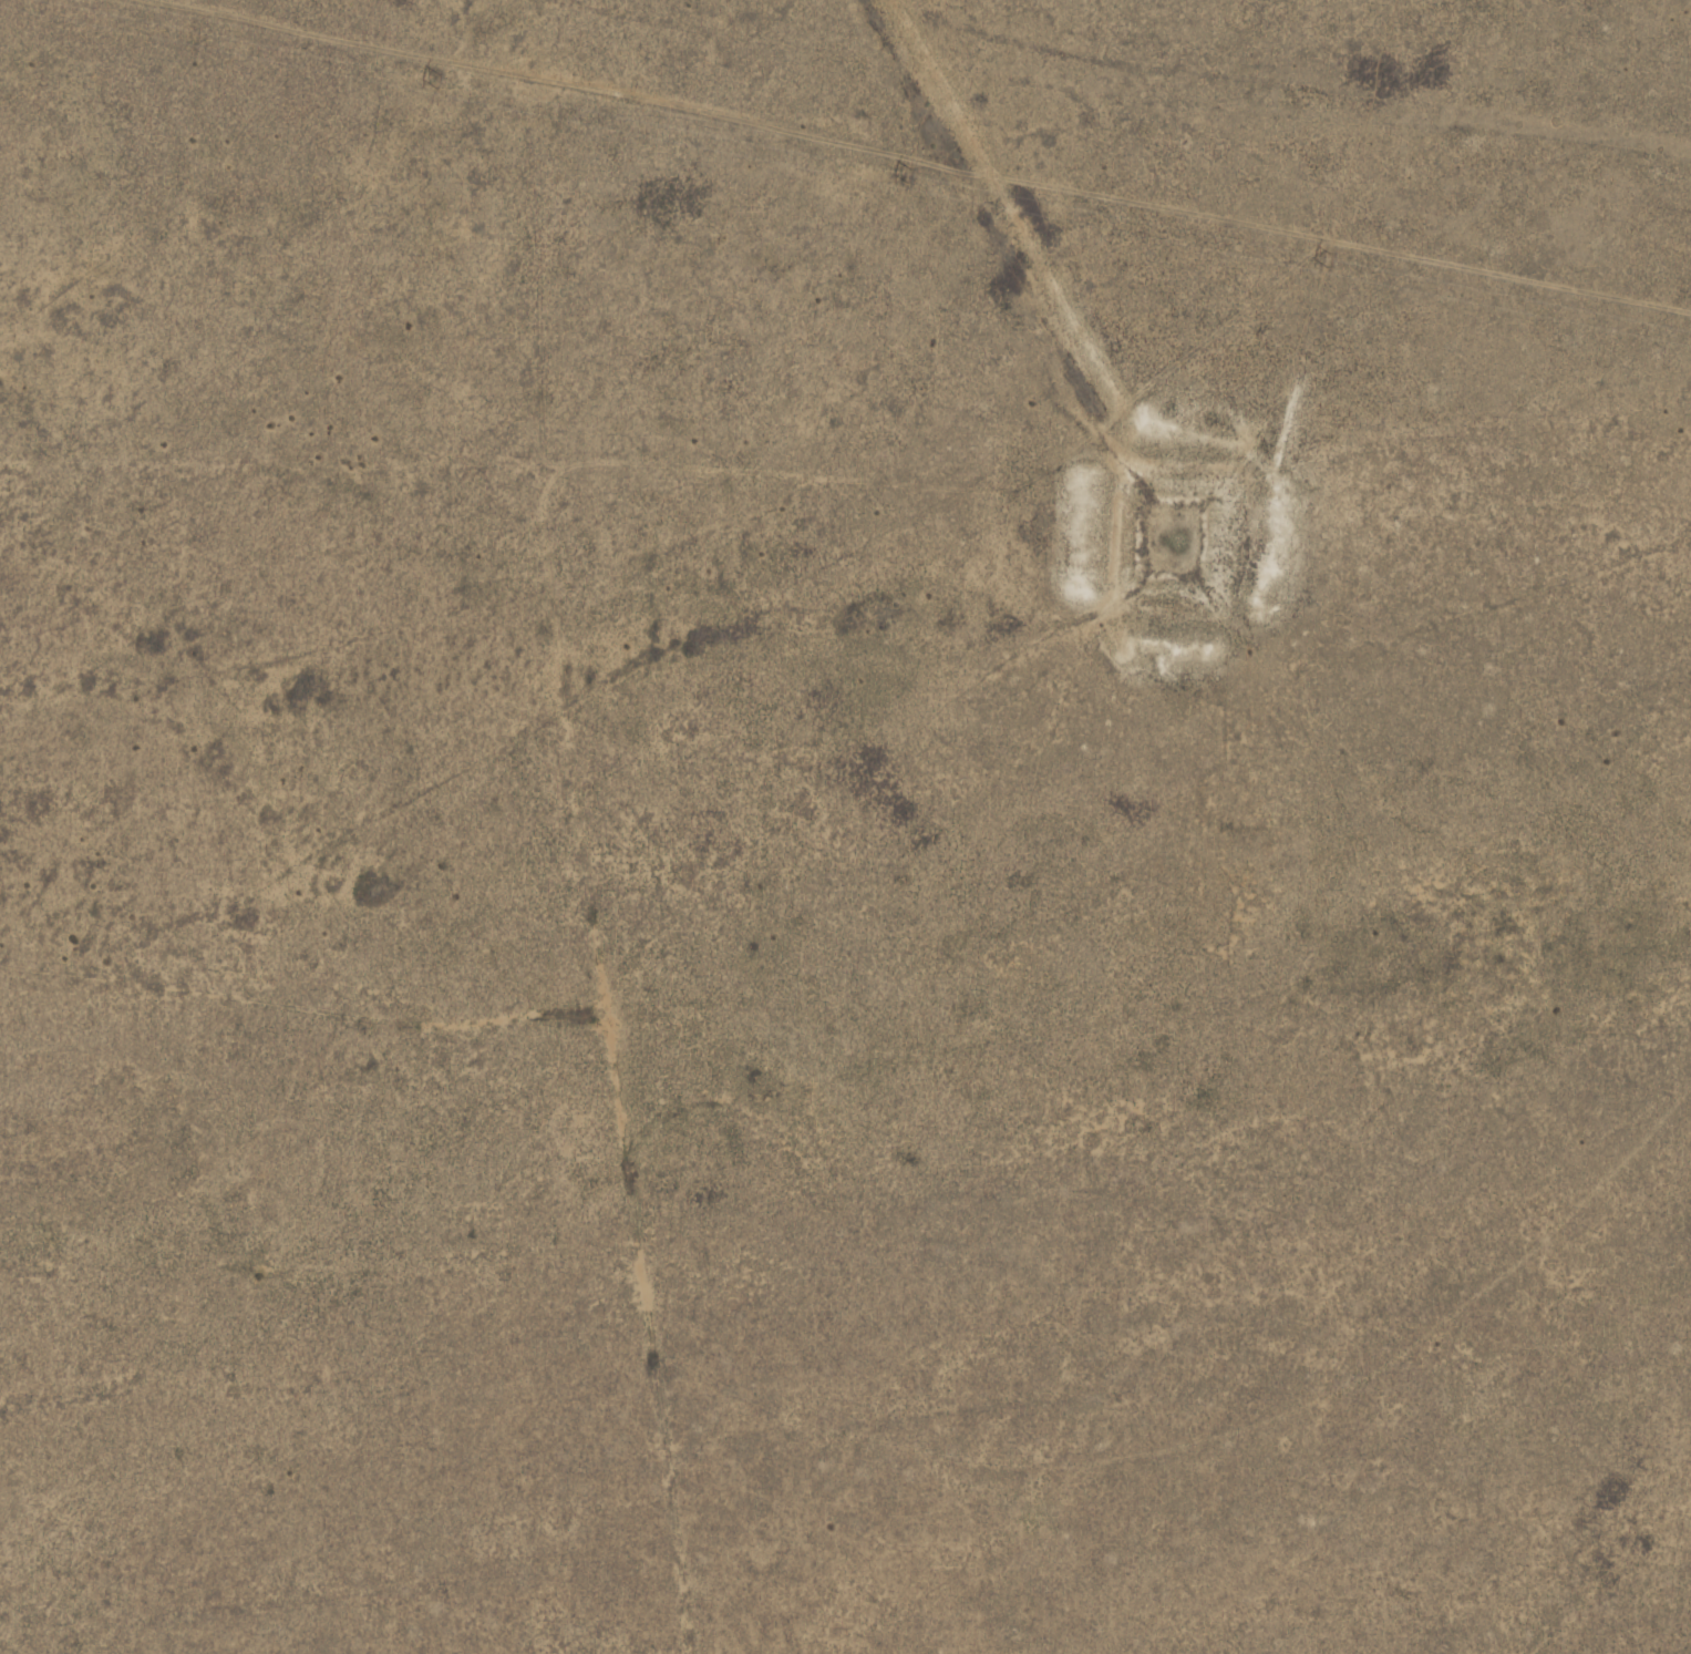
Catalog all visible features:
power tower: (437, 80)
power tower: (907, 175)
power tower: (1327, 259)

